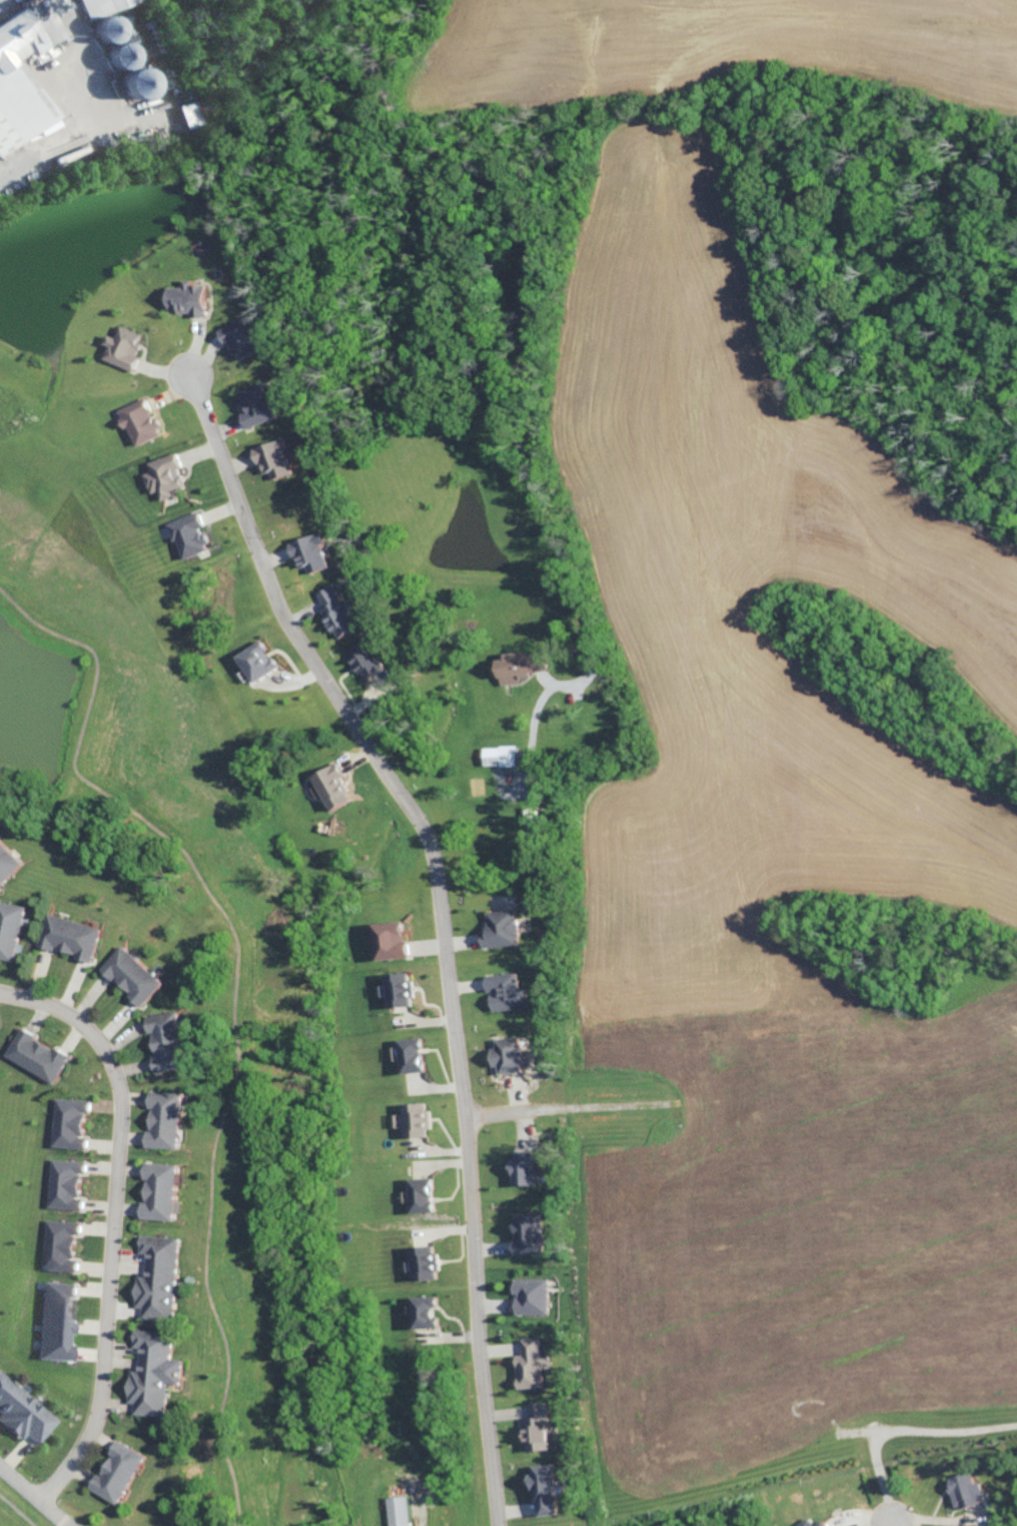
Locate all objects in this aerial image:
building: (83, 1)
building: (126, 2)
building: (118, 59)
building: (15, 94)
building: (189, 114)
building: (187, 298)
road: (464, 333)
building: (240, 338)
building: (123, 347)
building: (255, 405)
building: (139, 421)
building: (272, 458)
building: (164, 477)
building: (187, 535)
building: (307, 552)
building: (336, 611)
building: (364, 658)
building: (255, 661)
building: (518, 666)
road: (541, 704)
building: (498, 756)
building: (331, 786)
building: (1, 844)
building: (7, 864)
building: (10, 917)
road: (443, 920)
building: (499, 929)
building: (53, 932)
building: (389, 940)
building: (80, 941)
building: (8, 945)
building: (122, 965)
building: (142, 985)
building: (399, 990)
building: (505, 992)
building: (162, 1028)
building: (24, 1048)
building: (410, 1055)
building: (505, 1055)
building: (166, 1057)
building: (48, 1062)
building: (163, 1106)
building: (70, 1110)
road: (509, 1117)
building: (414, 1120)
building: (160, 1134)
building: (68, 1135)
building: (520, 1170)
building: (65, 1171)
building: (159, 1176)
building: (419, 1195)
building: (63, 1197)
building: (157, 1204)
road: (114, 1222)
building: (60, 1232)
building: (524, 1235)
building: (159, 1249)
building: (58, 1258)
building: (420, 1263)
building: (157, 1278)
building: (56, 1293)
building: (529, 1295)
building: (155, 1304)
building: (421, 1311)
building: (54, 1319)
building: (152, 1343)
building: (53, 1345)
building: (529, 1364)
building: (154, 1372)
building: (4, 1382)
building: (146, 1400)
building: (14, 1404)
building: (32, 1420)
building: (534, 1427)
building: (122, 1459)
building: (107, 1484)
building: (541, 1487)
building: (964, 1489)
road: (33, 1496)
building: (395, 1510)
building: (804, 1523)
road: (890, 1523)
building: (819, 1524)

